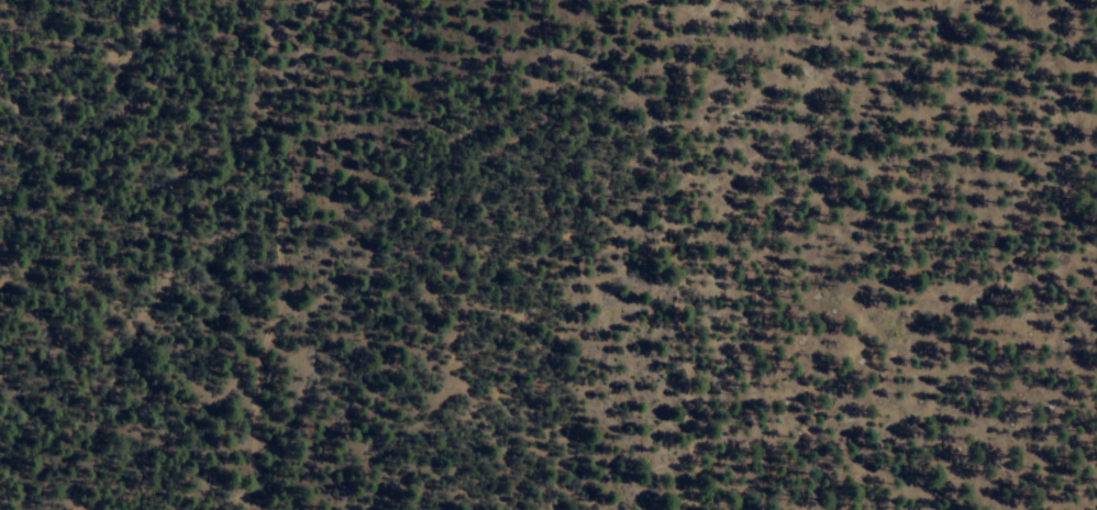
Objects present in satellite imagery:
road: (1005, 78)

